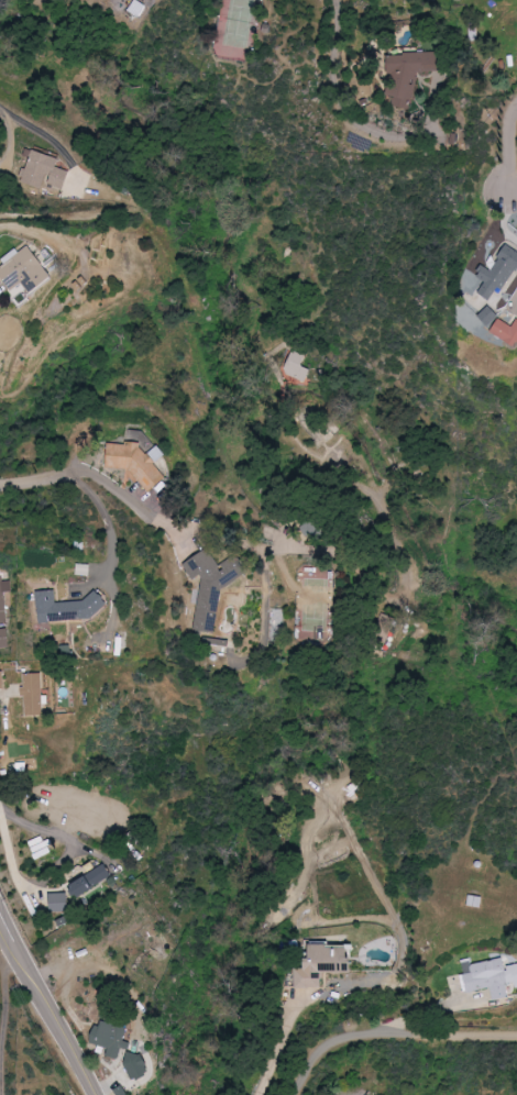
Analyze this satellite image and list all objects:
building: (137, 8)
building: (410, 71)
road: (38, 133)
building: (44, 170)
building: (25, 270)
building: (499, 273)
building: (488, 316)
building: (506, 331)
building: (297, 366)
building: (136, 463)
road: (74, 473)
road: (108, 524)
building: (212, 588)
building: (3, 598)
building: (67, 607)
building: (4, 639)
building: (2, 681)
building: (34, 695)
road: (58, 833)
road: (11, 859)
building: (91, 881)
building: (58, 903)
building: (323, 963)
building: (492, 977)
road: (47, 1007)
road: (4, 1024)
road: (397, 1039)
building: (121, 1047)
road: (277, 1047)

